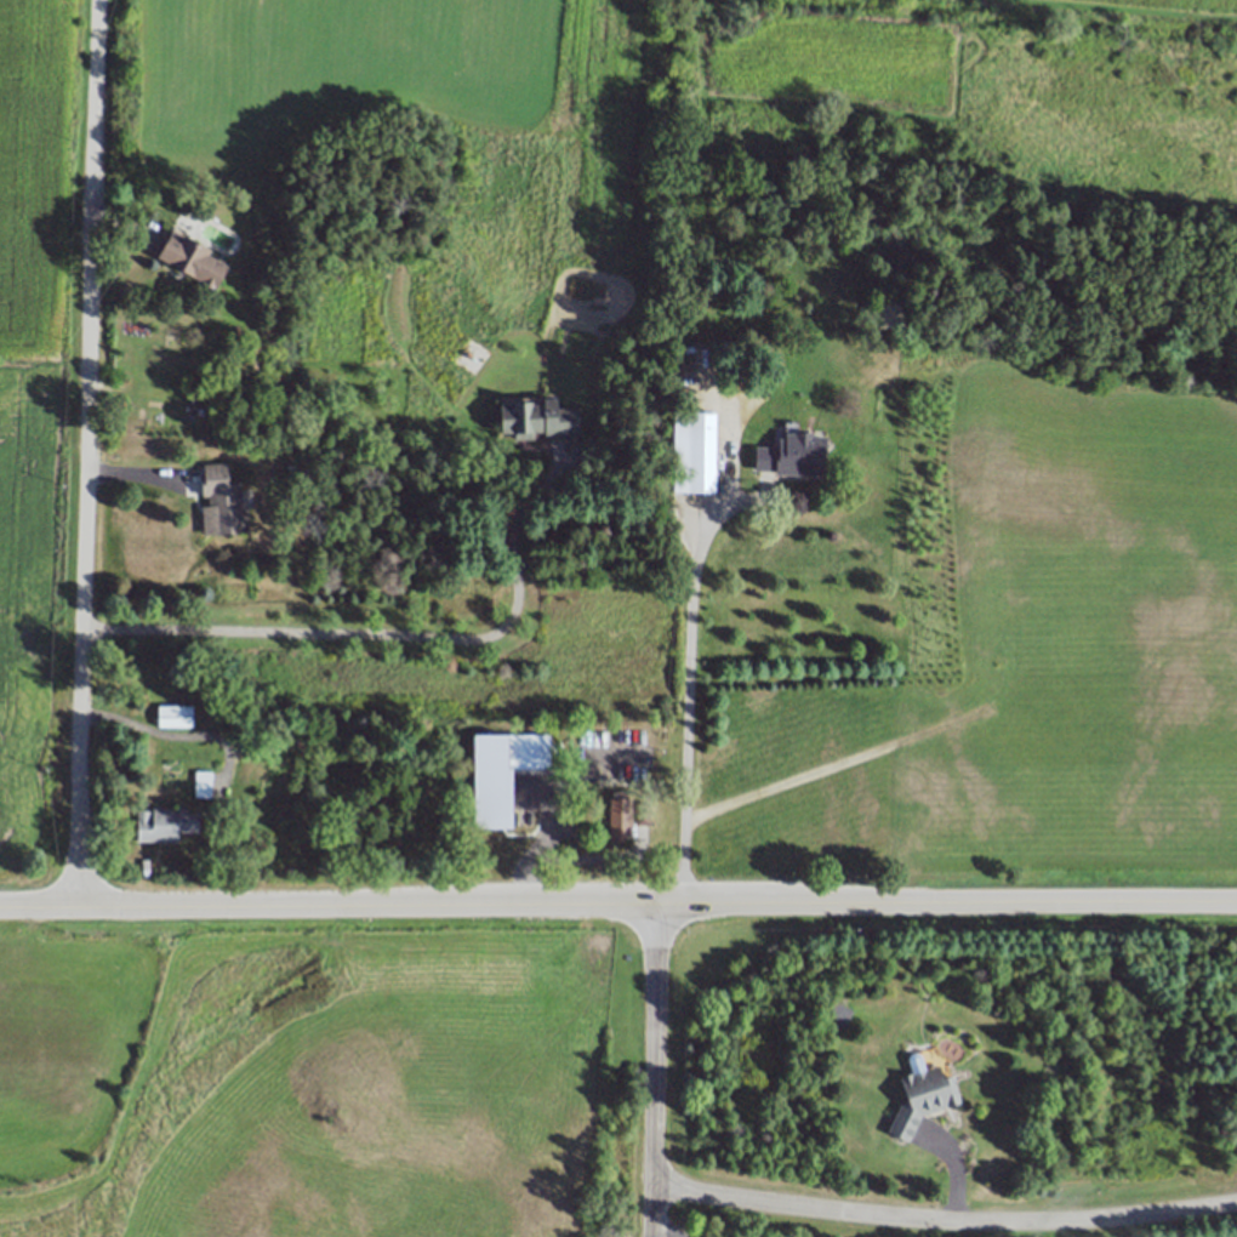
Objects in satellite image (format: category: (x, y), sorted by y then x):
building: (190, 257)
building: (888, 314)
building: (536, 416)
building: (694, 450)
road: (90, 452)
building: (788, 458)
building: (222, 502)
road: (377, 635)
road: (690, 679)
building: (175, 714)
road: (175, 735)
building: (520, 752)
building: (204, 782)
building: (642, 811)
building: (618, 816)
building: (164, 823)
road: (617, 905)
building: (836, 1017)
road: (654, 1071)
building: (920, 1095)
road: (942, 1220)
road: (666, 1226)

